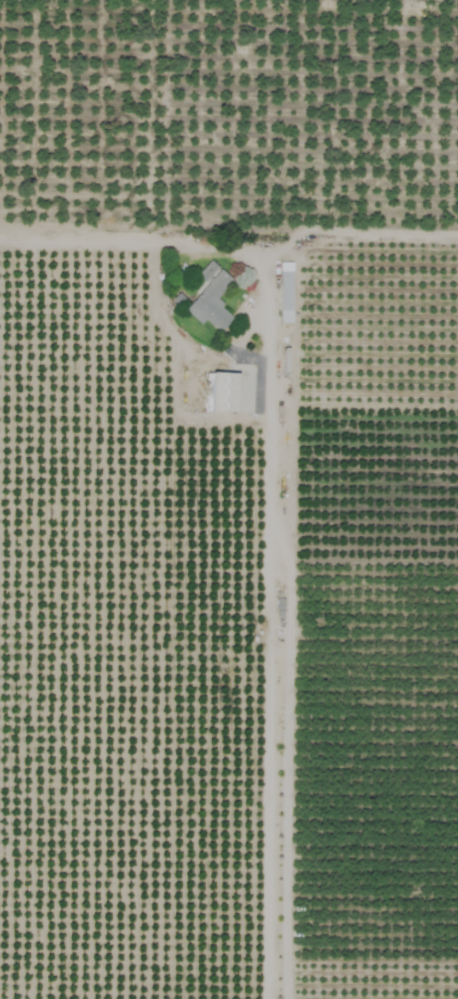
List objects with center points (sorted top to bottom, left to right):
building: (284, 292)
building: (210, 298)
building: (223, 392)
road: (277, 488)
crop: (229, 499)

